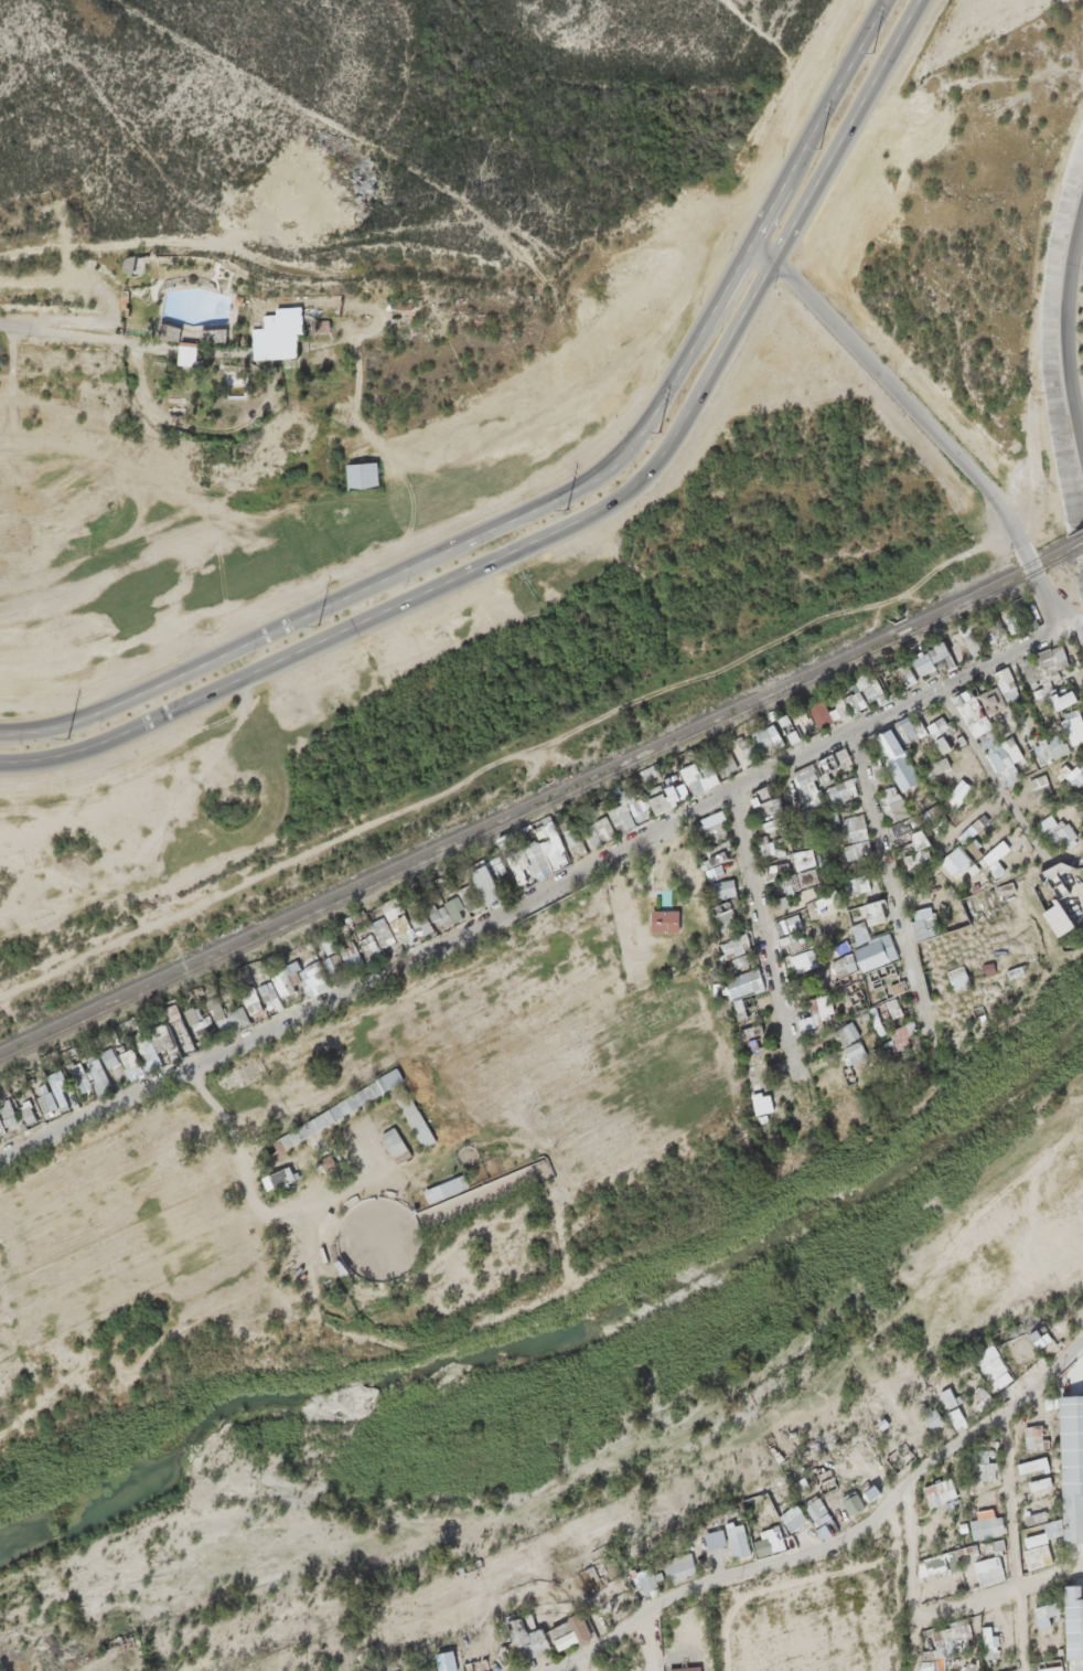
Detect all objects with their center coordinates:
river: (562, 1344)

